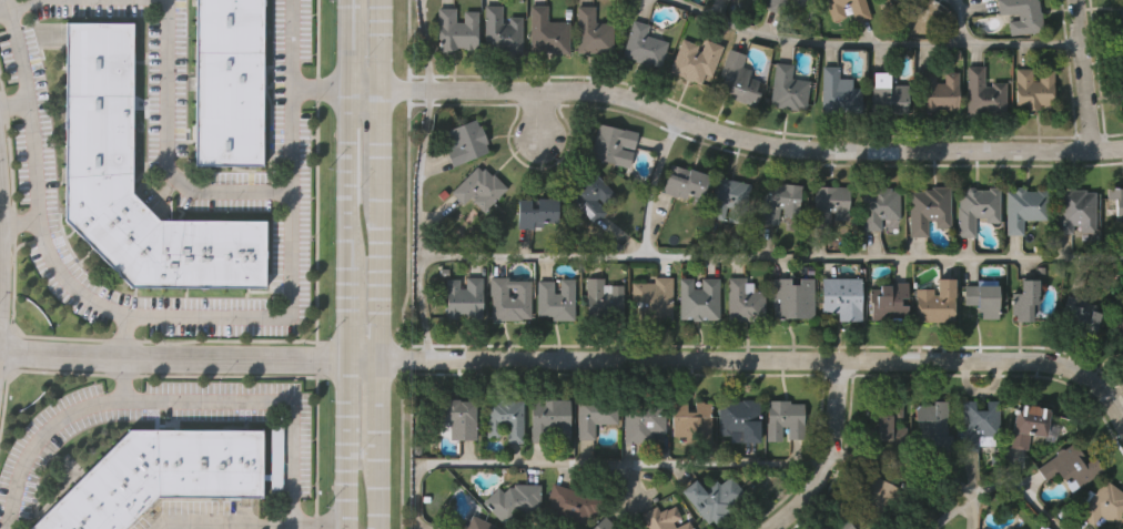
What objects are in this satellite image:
building: (752, 0)
building: (898, 0)
building: (801, 3)
building: (777, 4)
building: (858, 11)
building: (1121, 13)
building: (1023, 16)
road: (960, 22)
building: (456, 29)
building: (500, 32)
building: (546, 32)
building: (591, 32)
building: (1122, 33)
road: (427, 43)
building: (641, 44)
road: (350, 45)
road: (867, 45)
building: (696, 60)
road: (163, 75)
road: (1085, 75)
building: (739, 80)
building: (230, 81)
road: (317, 87)
building: (788, 89)
building: (937, 90)
building: (838, 91)
building: (1036, 91)
building: (981, 92)
building: (888, 95)
building: (1122, 96)
building: (100, 105)
road: (536, 113)
road: (732, 133)
building: (467, 141)
building: (613, 145)
road: (347, 165)
road: (34, 175)
building: (681, 182)
road: (649, 183)
building: (478, 185)
building: (588, 194)
building: (728, 197)
building: (781, 201)
building: (1120, 204)
building: (830, 207)
building: (880, 207)
building: (975, 208)
building: (1024, 208)
building: (931, 211)
building: (537, 212)
building: (1076, 214)
road: (418, 223)
road: (1, 253)
road: (290, 260)
road: (770, 260)
road: (314, 264)
road: (375, 264)
building: (463, 296)
building: (555, 297)
road: (344, 298)
building: (509, 298)
building: (604, 299)
building: (652, 299)
building: (699, 299)
building: (793, 299)
building: (843, 299)
building: (890, 301)
building: (984, 302)
building: (746, 303)
building: (937, 303)
building: (1026, 303)
building: (1122, 309)
building: (1082, 313)
building: (1119, 329)
road: (171, 357)
road: (746, 359)
road: (123, 379)
road: (171, 401)
building: (594, 413)
building: (458, 417)
building: (549, 417)
building: (738, 417)
building: (785, 417)
building: (505, 418)
building: (644, 418)
building: (690, 419)
building: (886, 421)
building: (980, 423)
building: (1026, 423)
building: (935, 425)
road: (342, 440)
road: (828, 455)
building: (1068, 465)
road: (589, 467)
road: (902, 470)
building: (160, 474)
building: (881, 495)
building: (715, 496)
road: (1019, 497)
road: (624, 498)
building: (514, 499)
building: (1103, 502)
building: (570, 503)
road: (953, 511)
building: (662, 519)
building: (473, 523)
building: (603, 523)
road: (250, 525)
building: (844, 525)
road: (341, 527)

